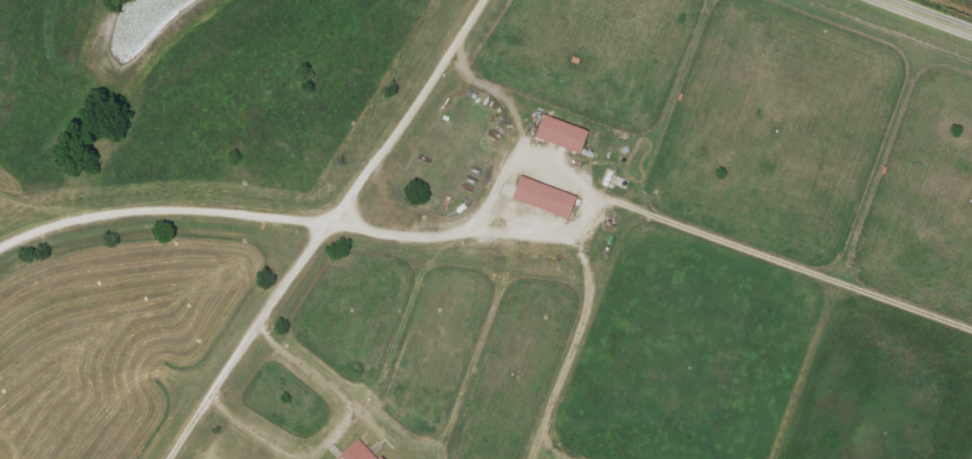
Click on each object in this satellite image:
road: (926, 16)
road: (475, 19)
road: (531, 130)
building: (559, 133)
road: (570, 163)
building: (541, 196)
road: (649, 207)
road: (165, 215)
road: (319, 248)
building: (357, 451)

